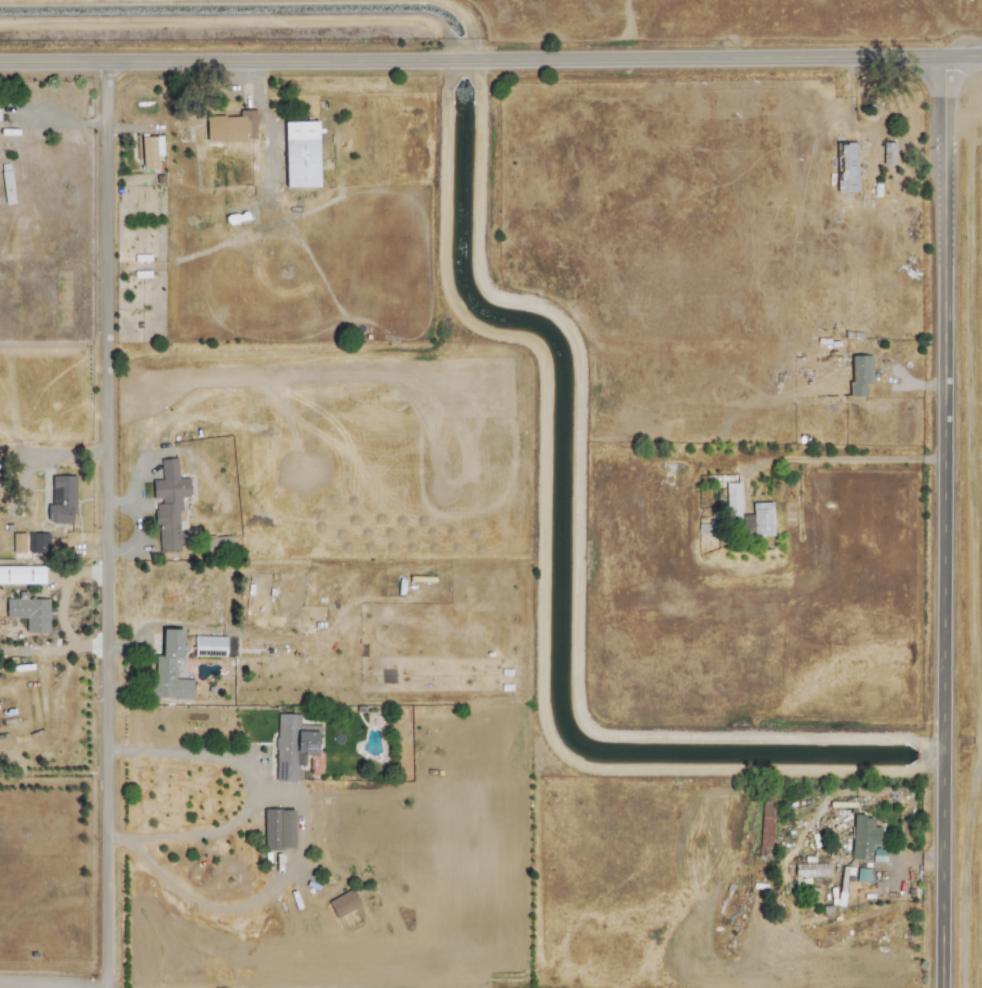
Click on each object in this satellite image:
road: (491, 61)
road: (252, 83)
building: (230, 127)
road: (271, 131)
building: (150, 151)
building: (300, 153)
building: (888, 153)
building: (847, 168)
building: (859, 374)
road: (839, 458)
building: (61, 499)
building: (169, 506)
building: (761, 508)
road: (939, 520)
road: (104, 523)
building: (18, 542)
building: (37, 542)
building: (218, 543)
building: (21, 574)
building: (29, 613)
building: (209, 645)
building: (169, 668)
building: (291, 746)
road: (247, 790)
building: (765, 828)
building: (278, 829)
building: (862, 837)
building: (878, 855)
building: (811, 869)
building: (861, 874)
building: (343, 903)
road: (53, 985)

